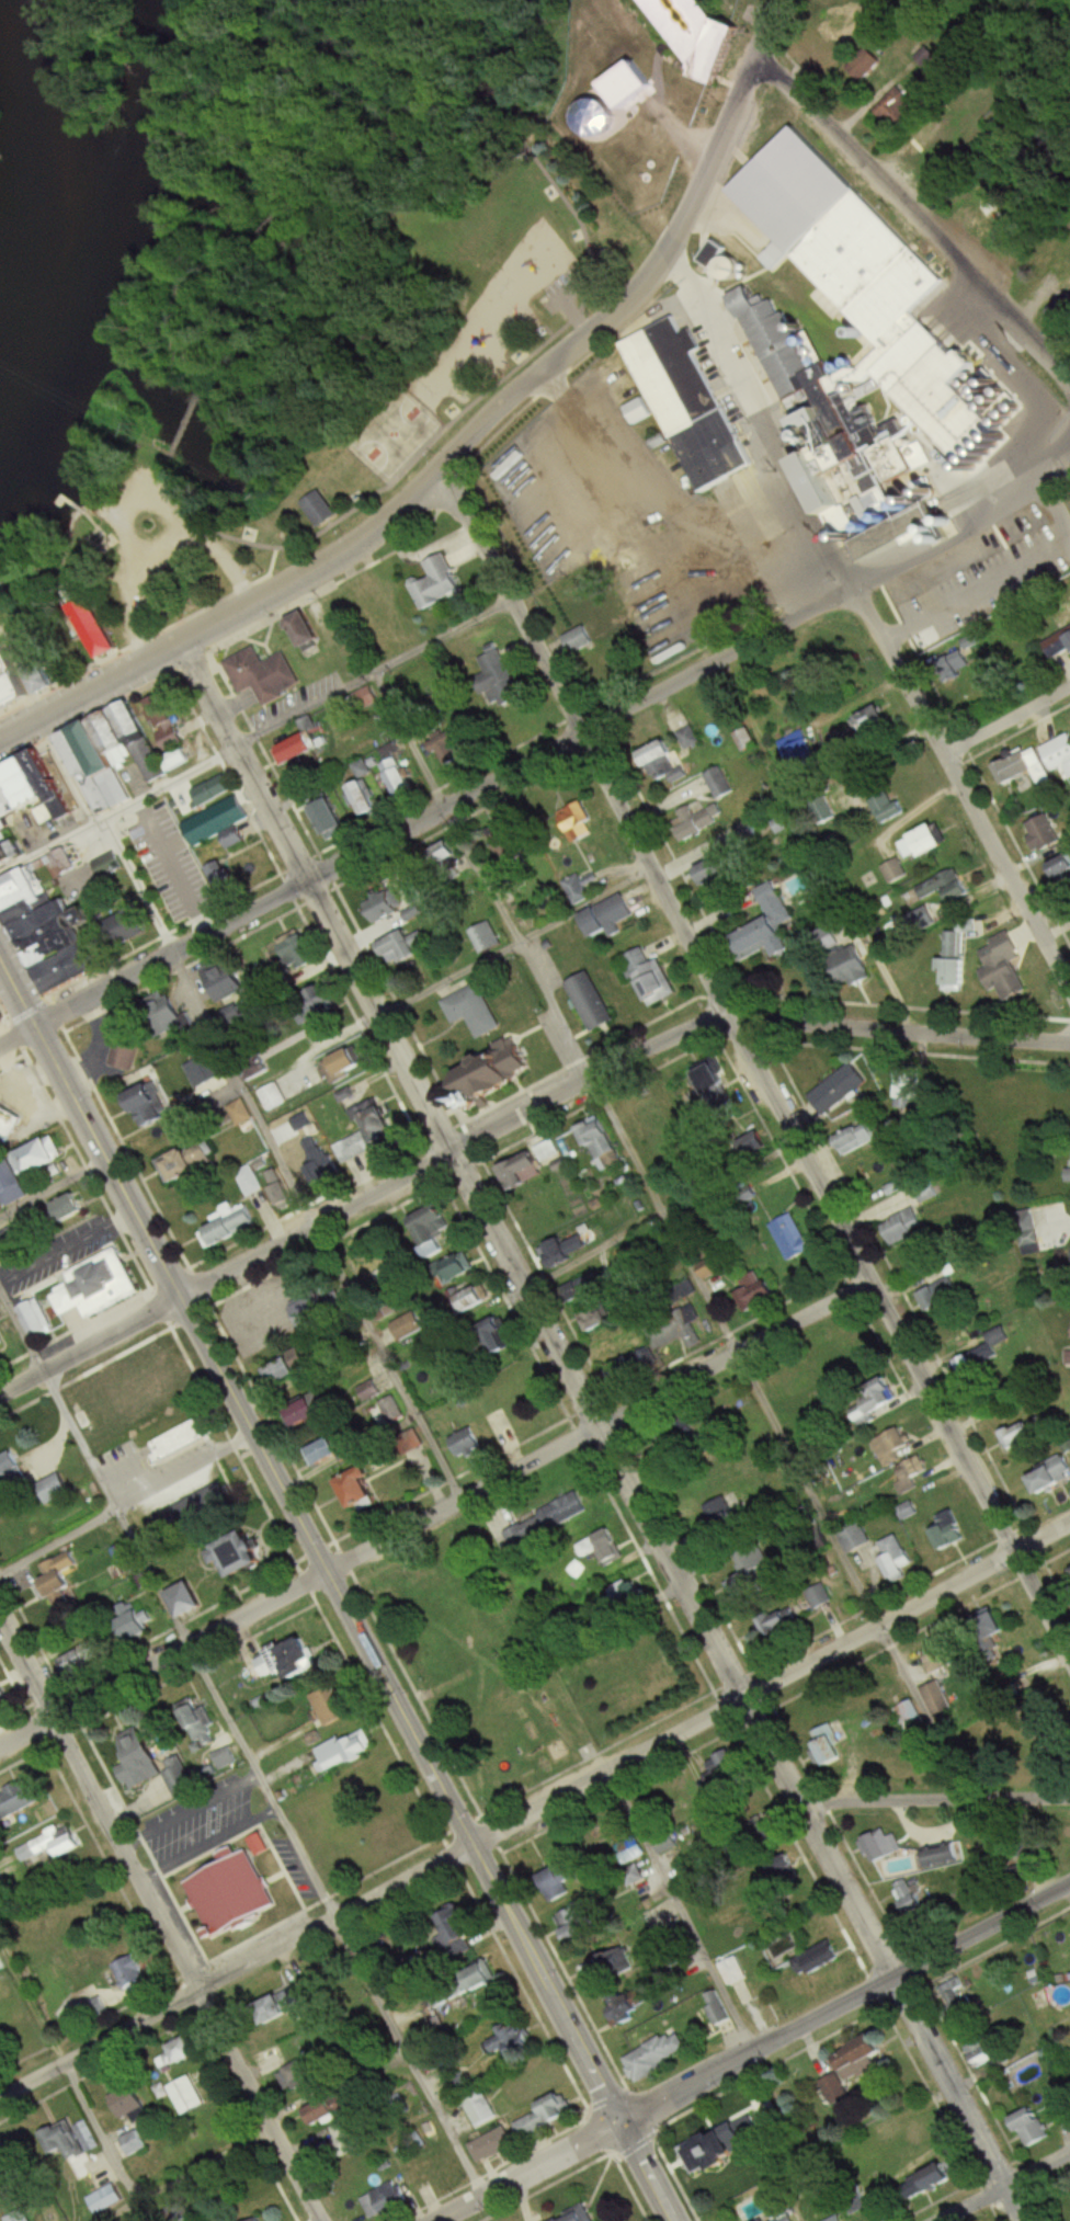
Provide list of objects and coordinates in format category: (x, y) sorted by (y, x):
building: (697, 35)
building: (926, 57)
building: (633, 64)
building: (867, 66)
building: (897, 109)
building: (953, 113)
river: (41, 208)
road: (913, 213)
building: (833, 235)
park: (321, 297)
building: (683, 397)
building: (639, 412)
building: (835, 438)
road: (464, 440)
building: (558, 442)
building: (322, 510)
building: (607, 527)
building: (1056, 533)
building: (439, 584)
building: (921, 604)
road: (870, 624)
building: (665, 625)
building: (101, 629)
building: (306, 630)
building: (576, 640)
building: (1057, 645)
building: (952, 663)
building: (611, 665)
building: (258, 671)
building: (38, 673)
building: (498, 680)
building: (11, 683)
building: (362, 699)
road: (1006, 717)
building: (162, 722)
building: (874, 722)
building: (686, 739)
building: (745, 741)
building: (442, 744)
road: (550, 744)
building: (301, 747)
building: (1060, 755)
building: (116, 756)
building: (664, 763)
building: (1027, 770)
building: (397, 778)
building: (718, 783)
building: (208, 790)
building: (364, 799)
building: (26, 805)
road: (441, 805)
building: (888, 807)
road: (117, 808)
building: (330, 818)
building: (577, 821)
building: (698, 821)
building: (217, 822)
road: (101, 831)
building: (1045, 833)
building: (508, 840)
building: (935, 841)
building: (912, 847)
building: (448, 863)
building: (103, 866)
building: (1060, 870)
building: (897, 872)
building: (717, 874)
building: (946, 887)
building: (91, 893)
building: (384, 907)
building: (610, 915)
building: (50, 924)
building: (767, 926)
building: (123, 929)
building: (486, 937)
road: (513, 939)
building: (402, 948)
building: (299, 953)
building: (844, 960)
building: (1001, 967)
building: (954, 975)
building: (650, 978)
building: (230, 983)
building: (321, 996)
building: (592, 1002)
building: (169, 1011)
building: (473, 1011)
building: (3, 1015)
road: (898, 1029)
road: (15, 1033)
road: (96, 1044)
building: (125, 1053)
road: (752, 1062)
building: (343, 1064)
building: (499, 1071)
building: (715, 1084)
building: (908, 1087)
building: (836, 1091)
building: (272, 1096)
building: (151, 1106)
building: (241, 1115)
building: (8, 1120)
building: (378, 1120)
building: (860, 1137)
building: (599, 1140)
road: (449, 1147)
building: (43, 1155)
building: (314, 1157)
building: (190, 1162)
building: (531, 1164)
building: (9, 1178)
building: (248, 1180)
road: (53, 1185)
building: (278, 1188)
building: (68, 1208)
road: (661, 1216)
road: (314, 1225)
building: (229, 1226)
building: (899, 1227)
building: (433, 1230)
building: (23, 1232)
building: (788, 1238)
road: (66, 1244)
building: (561, 1253)
building: (709, 1267)
building: (458, 1268)
building: (96, 1285)
building: (587, 1288)
building: (754, 1294)
building: (940, 1294)
building: (476, 1299)
building: (387, 1311)
building: (36, 1317)
building: (595, 1317)
building: (409, 1328)
road: (20, 1330)
building: (673, 1330)
building: (2, 1335)
building: (499, 1337)
road: (89, 1343)
building: (982, 1355)
building: (630, 1366)
building: (291, 1369)
building: (515, 1378)
building: (146, 1386)
building: (369, 1392)
building: (874, 1405)
building: (311, 1414)
road: (599, 1428)
road: (600, 1428)
building: (1025, 1434)
building: (177, 1440)
building: (464, 1444)
building: (891, 1446)
building: (332, 1455)
building: (12, 1469)
building: (911, 1474)
building: (1052, 1478)
building: (54, 1488)
building: (360, 1489)
road: (807, 1492)
road: (126, 1502)
road: (114, 1505)
building: (198, 1505)
building: (567, 1508)
building: (719, 1523)
building: (951, 1533)
building: (856, 1537)
building: (523, 1539)
building: (250, 1552)
building: (129, 1558)
building: (897, 1558)
building: (59, 1576)
building: (748, 1578)
road: (338, 1591)
building: (187, 1598)
building: (776, 1621)
building: (991, 1624)
building: (138, 1625)
road: (162, 1655)
building: (940, 1659)
building: (286, 1660)
road: (770, 1687)
building: (3, 1699)
building: (937, 1699)
building: (331, 1706)
building: (909, 1713)
building: (344, 1751)
building: (832, 1752)
building: (225, 1757)
building: (152, 1763)
road: (258, 1779)
building: (716, 1779)
building: (18, 1799)
road: (933, 1799)
road: (194, 1806)
road: (212, 1838)
building: (259, 1844)
building: (52, 1845)
building: (881, 1845)
building: (942, 1857)
building: (555, 1880)
building: (240, 1892)
building: (909, 1897)
road: (166, 1900)
building: (577, 1922)
building: (457, 1926)
building: (816, 1959)
building: (610, 1966)
road: (236, 1968)
building: (733, 1971)
building: (128, 1972)
building: (489, 1978)
building: (959, 2002)
building: (287, 2006)
road: (844, 2007)
building: (625, 2008)
building: (722, 2009)
building: (514, 2041)
building: (186, 2050)
building: (980, 2053)
road: (407, 2055)
building: (659, 2055)
building: (863, 2058)
building: (460, 2085)
building: (534, 2085)
building: (834, 2088)
building: (187, 2096)
building: (1061, 2097)
building: (128, 2103)
building: (480, 2108)
building: (546, 2117)
traffic signals: (618, 2120)
building: (1033, 2128)
building: (351, 2137)
building: (903, 2137)
building: (64, 2142)
building: (132, 2144)
building: (728, 2144)
building: (492, 2145)
building: (8, 2161)
road: (527, 2169)
road: (993, 2179)
building: (930, 2182)
road: (138, 2186)
building: (104, 2199)
building: (385, 2201)
road: (118, 2208)
building: (178, 2212)
building: (18, 2216)
building: (577, 2216)
building: (784, 2216)
building: (261, 2219)
building: (838, 2219)
building: (850, 2220)

